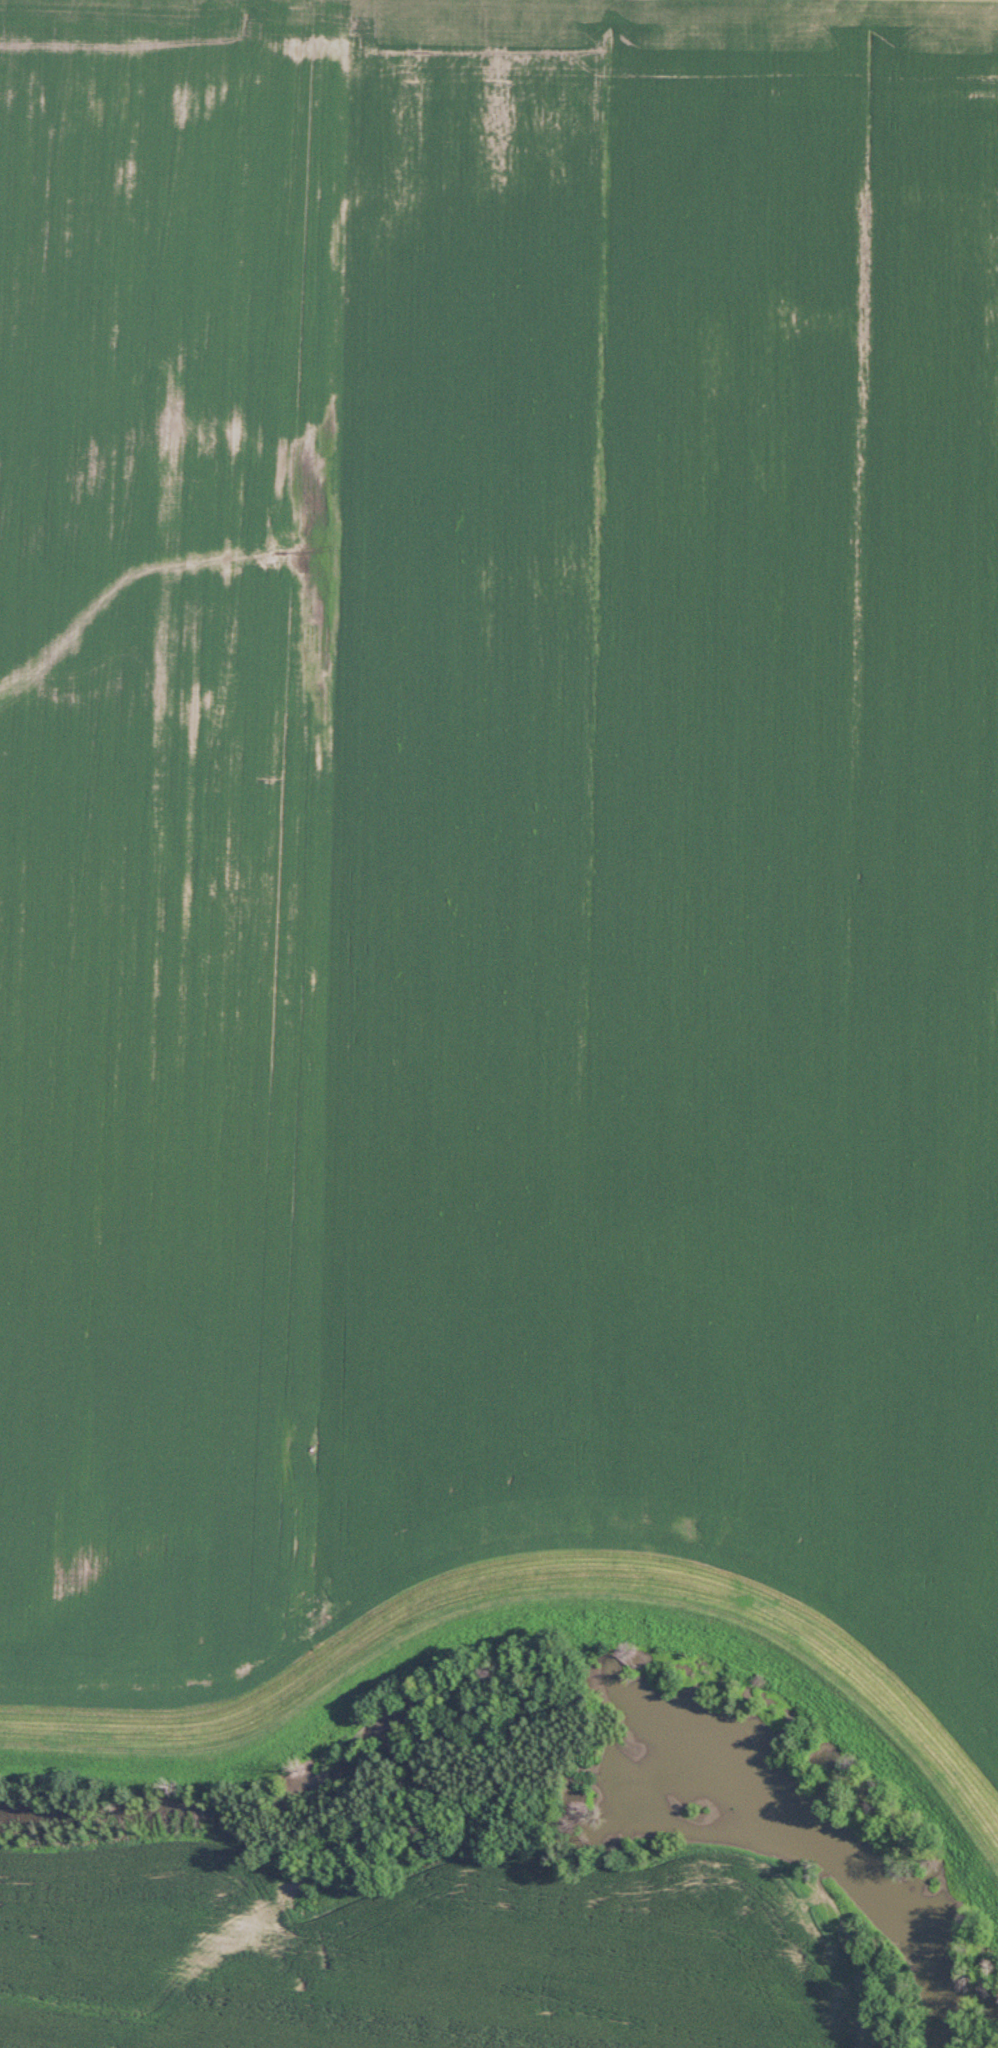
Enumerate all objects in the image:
crop: (493, 812)

